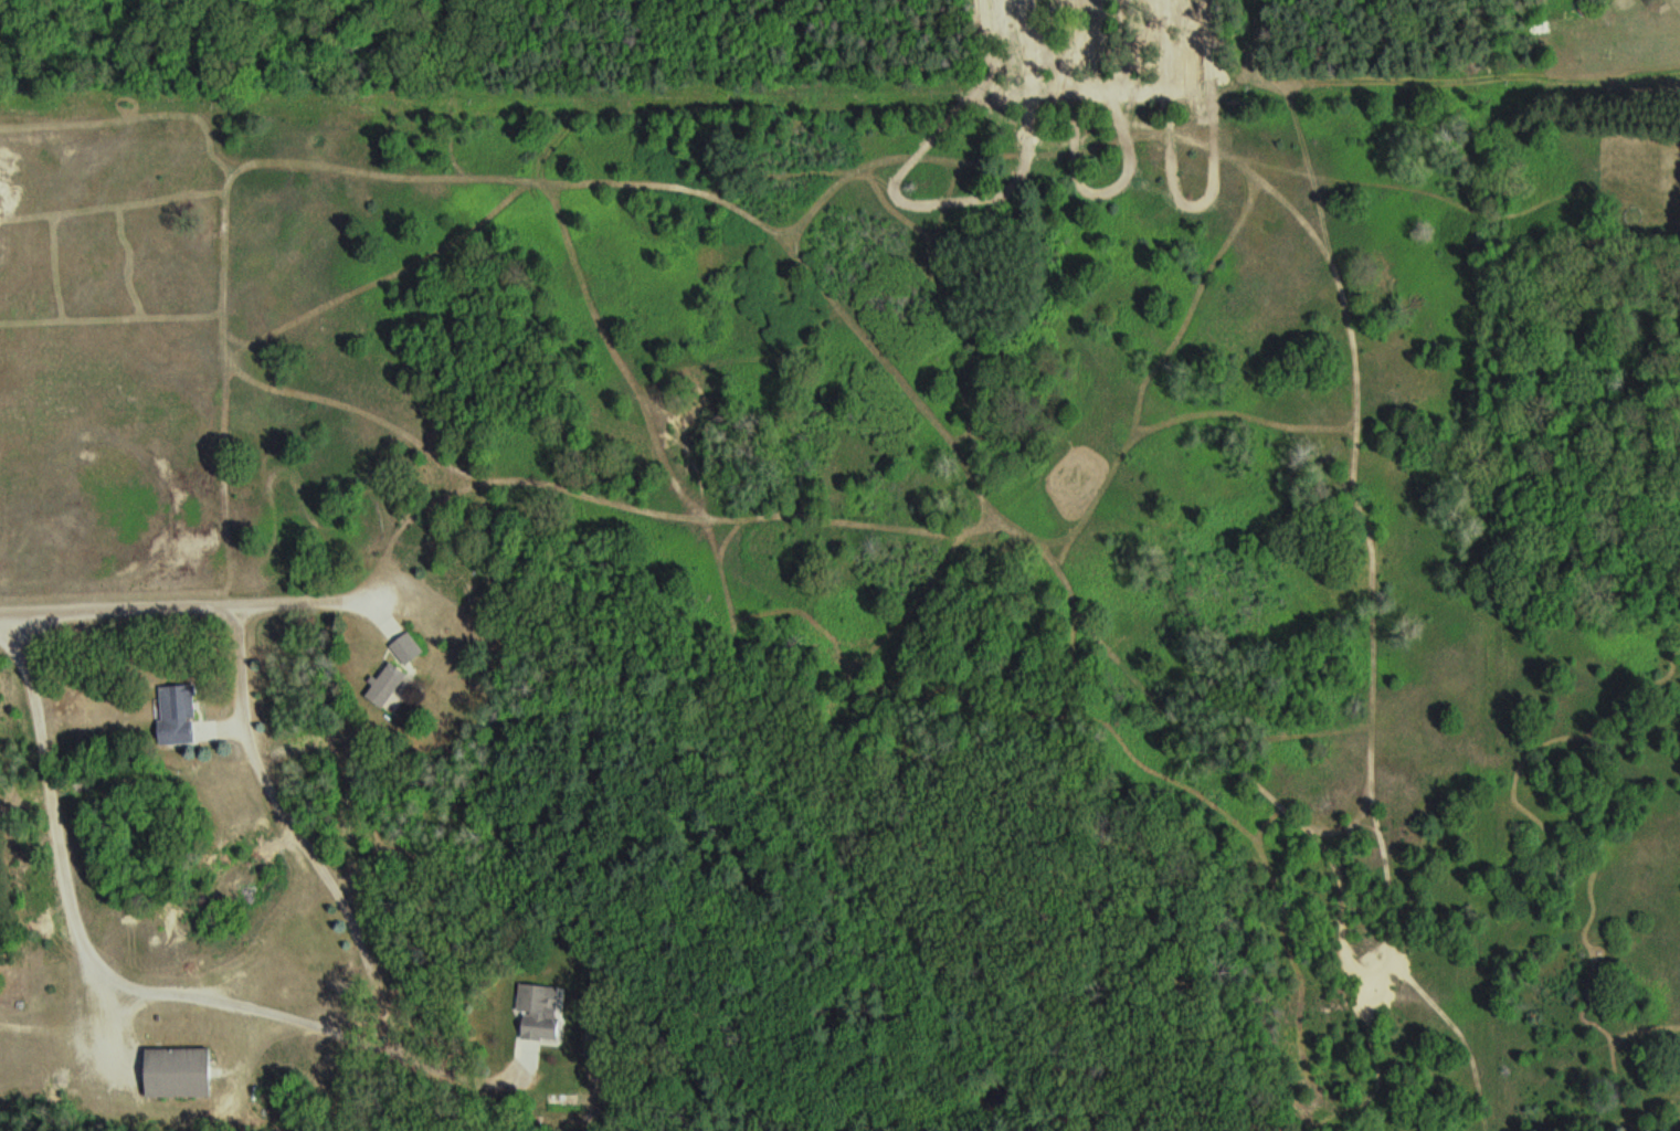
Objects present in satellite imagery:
road: (684, 548)
building: (411, 648)
building: (391, 686)
building: (180, 715)
road: (55, 804)
building: (548, 1016)
building: (182, 1071)

